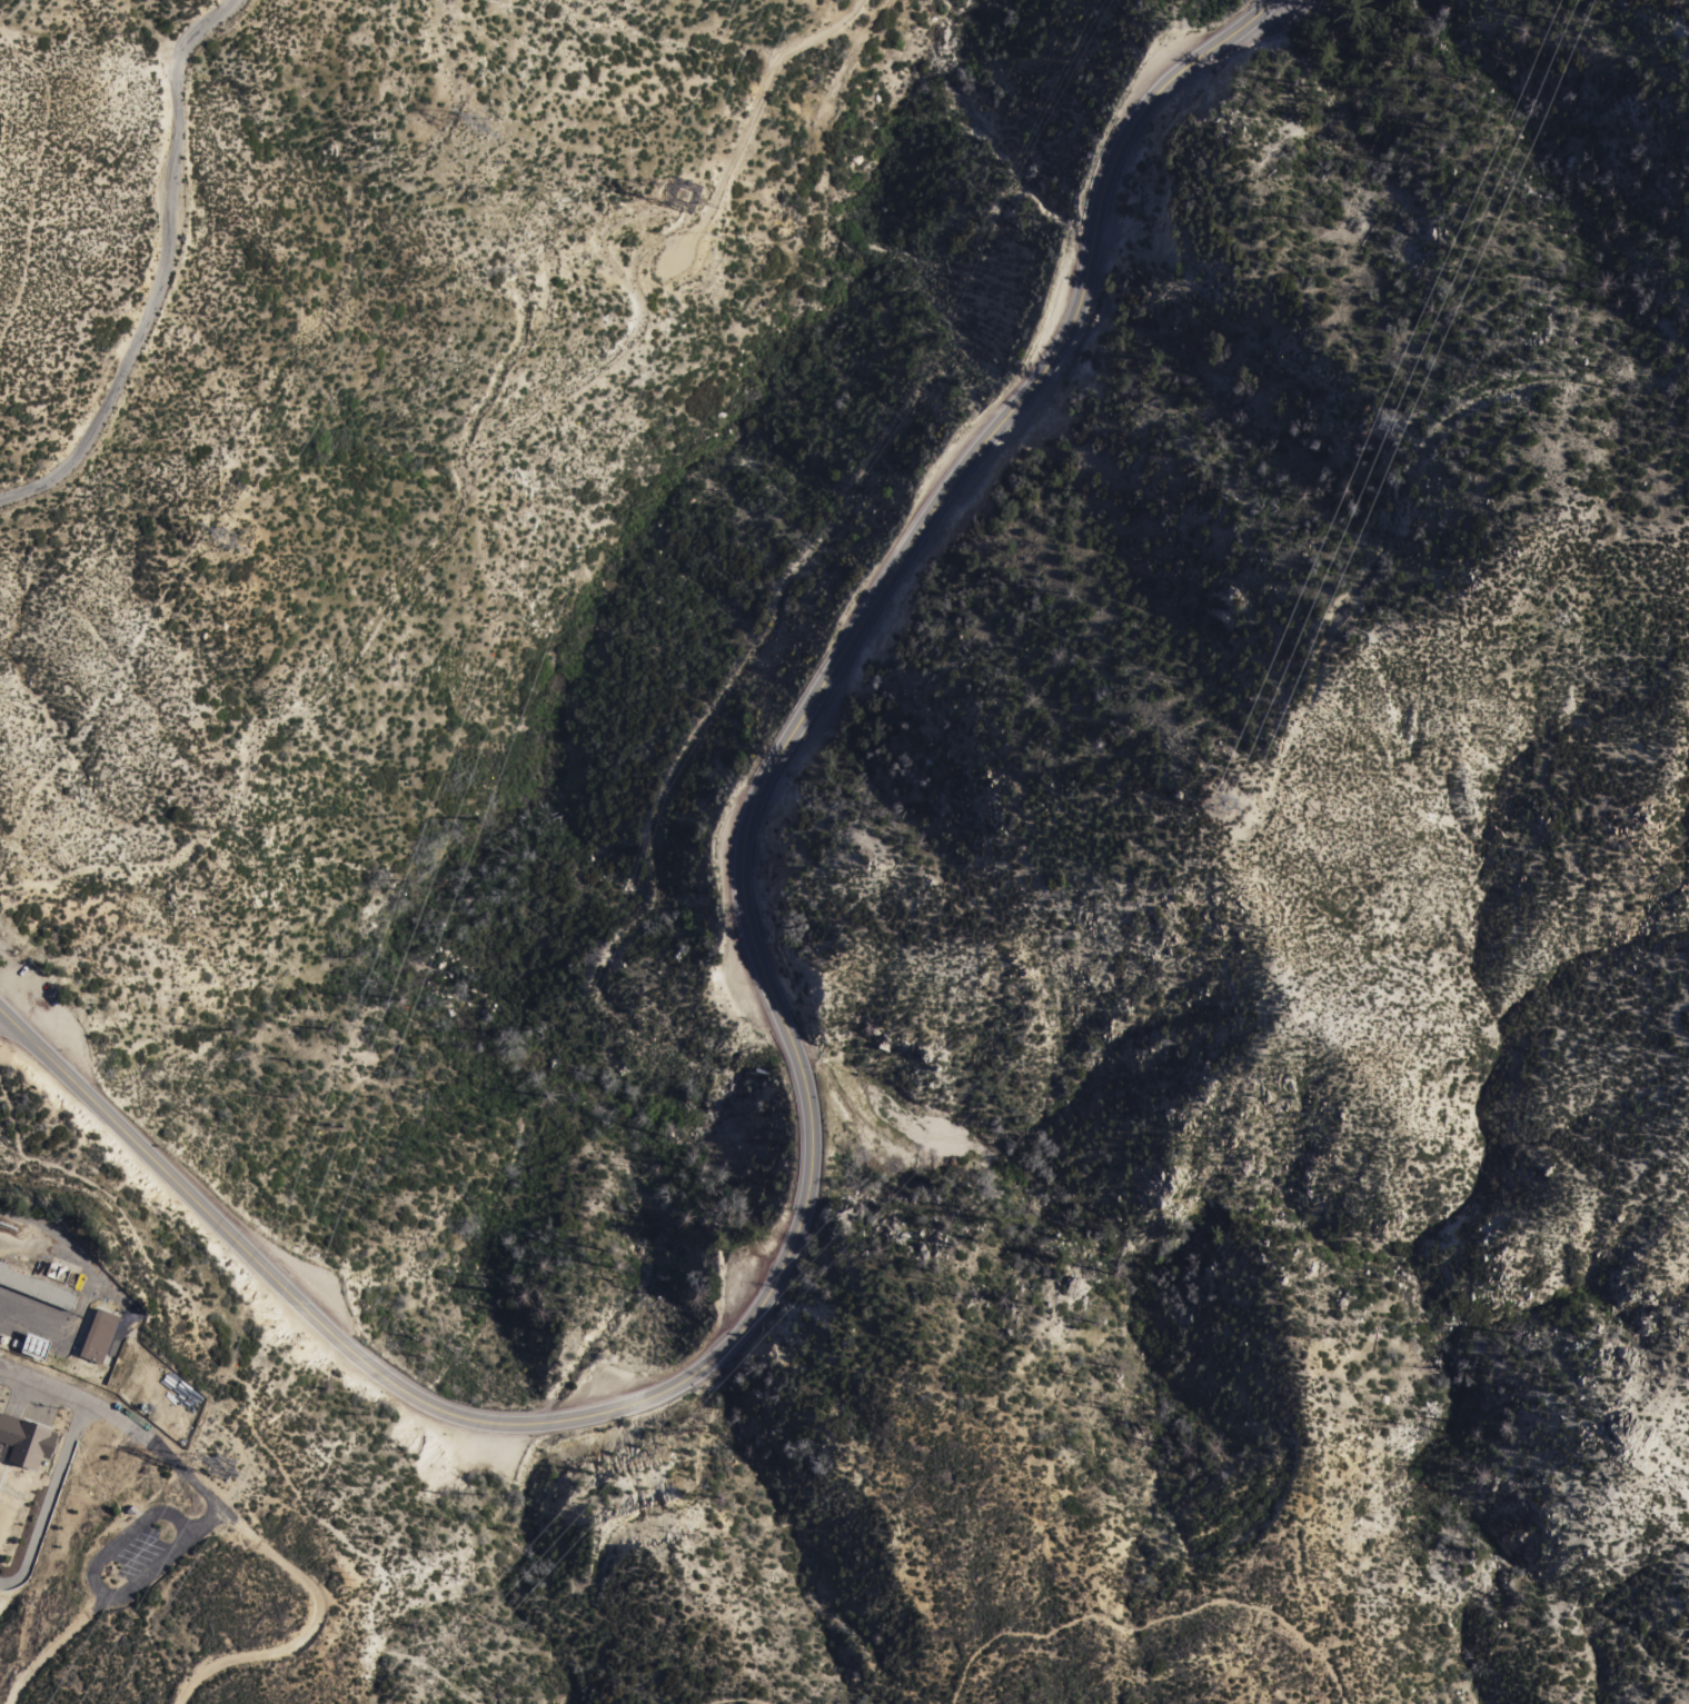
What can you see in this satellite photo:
road: (824, 19)
power tower: (483, 129)
road: (40, 163)
power tower: (686, 213)
road: (167, 270)
quarry: (525, 283)
road: (552, 289)
road: (640, 326)
road: (255, 423)
road: (258, 727)
power tower: (1232, 808)
road: (795, 1047)
building: (37, 1286)
building: (101, 1332)
building: (120, 1332)
building: (32, 1345)
power tower: (786, 1355)
road: (12, 1381)
road: (246, 1399)
parking lot: (12, 1409)
road: (128, 1426)
building: (26, 1439)
road: (3, 1467)
power tower: (225, 1476)
road: (48, 1496)
road: (265, 1496)
parking lot: (135, 1553)
road: (99, 1590)
road: (344, 1604)
road: (1155, 1617)
road: (301, 1628)
road: (53, 1644)
road: (1134, 1672)
road: (739, 1697)

